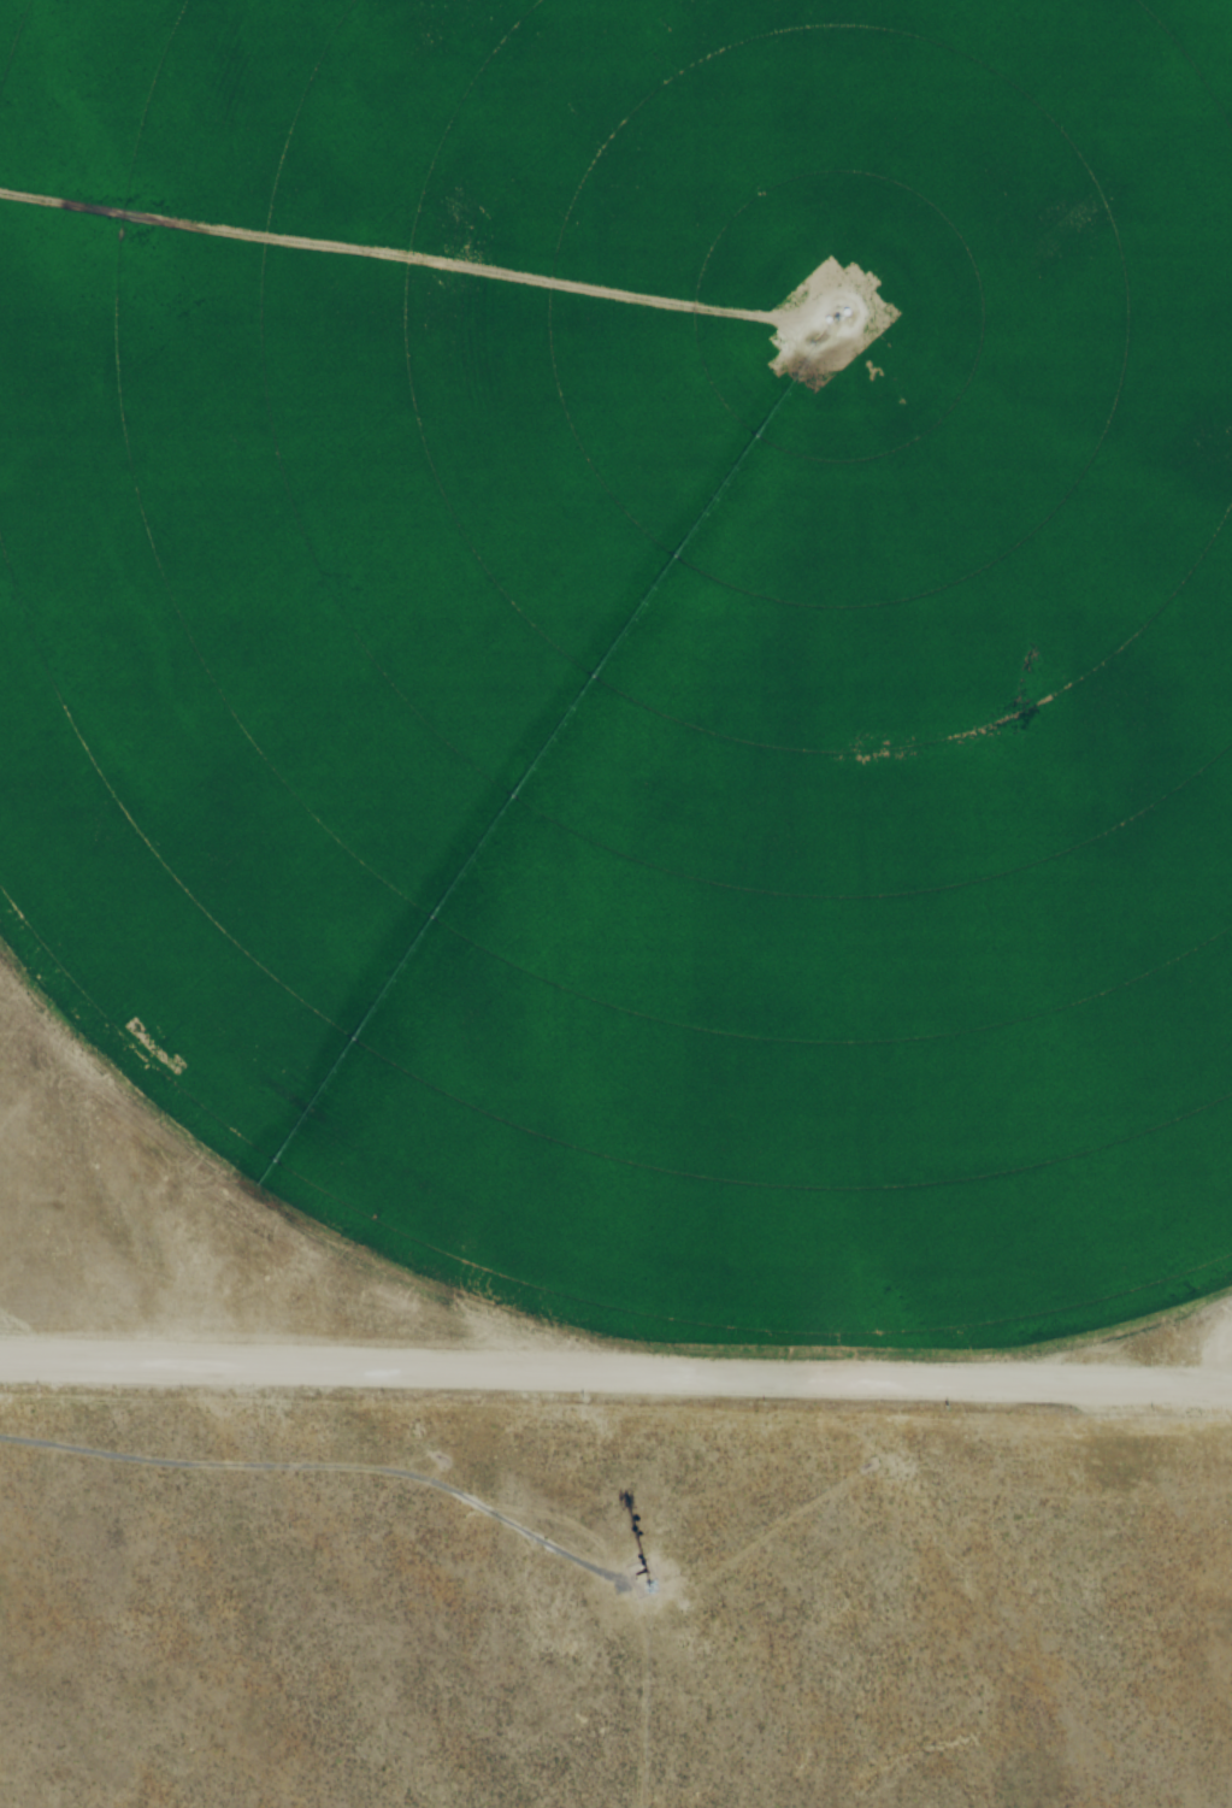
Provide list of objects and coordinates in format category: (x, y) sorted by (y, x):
crop: (638, 638)
road: (615, 1376)
road: (306, 1471)

